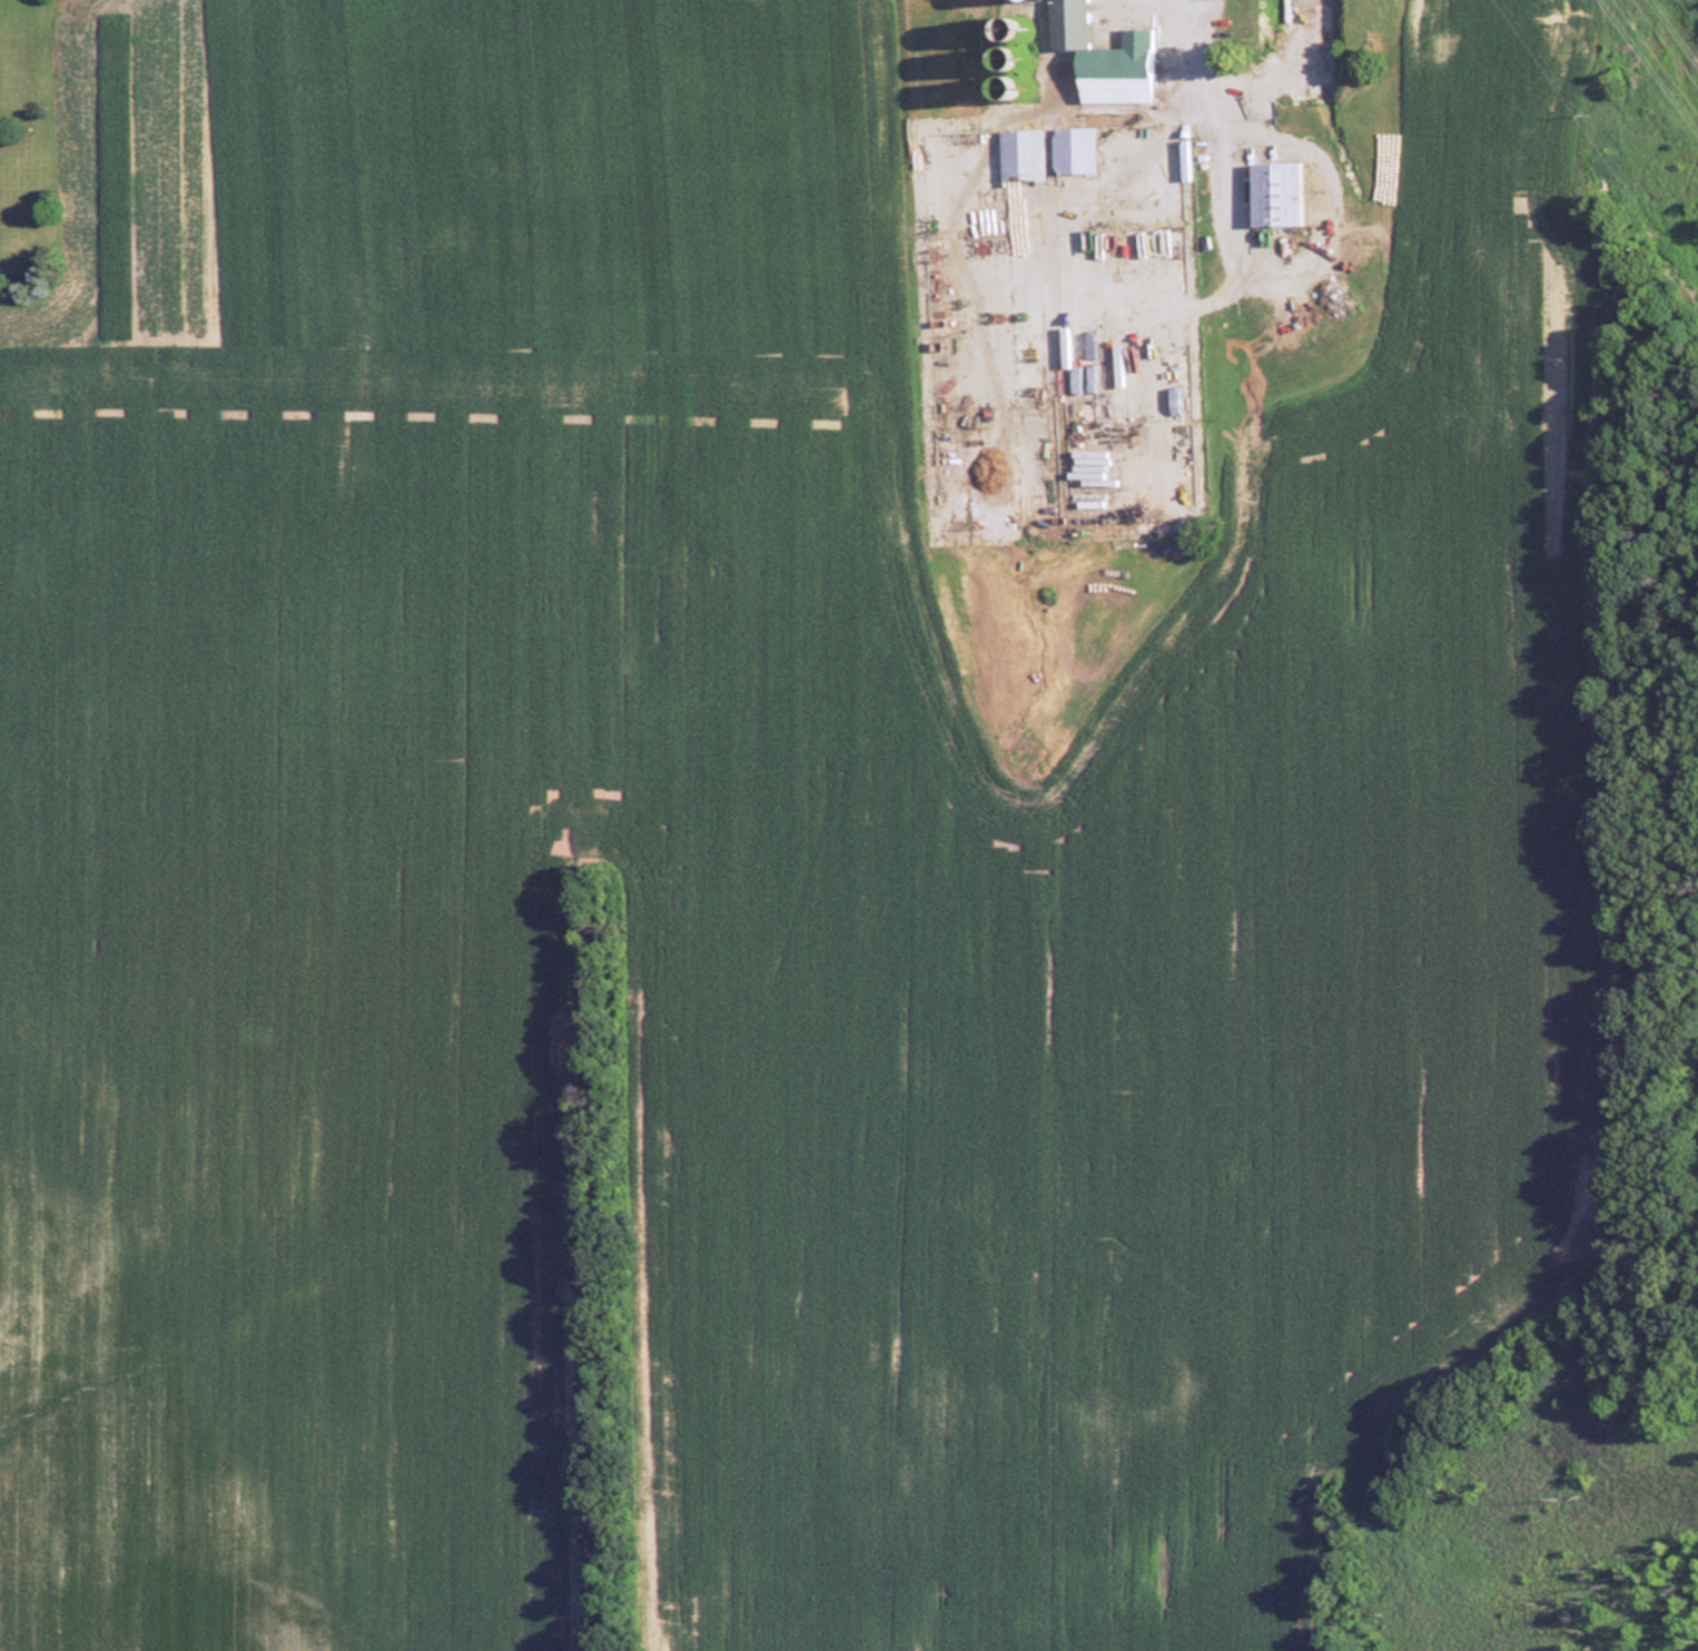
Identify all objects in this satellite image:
road: (1185, 13)
building: (1108, 59)
road: (1213, 132)
building: (1076, 158)
building: (1024, 159)
building: (1279, 197)

